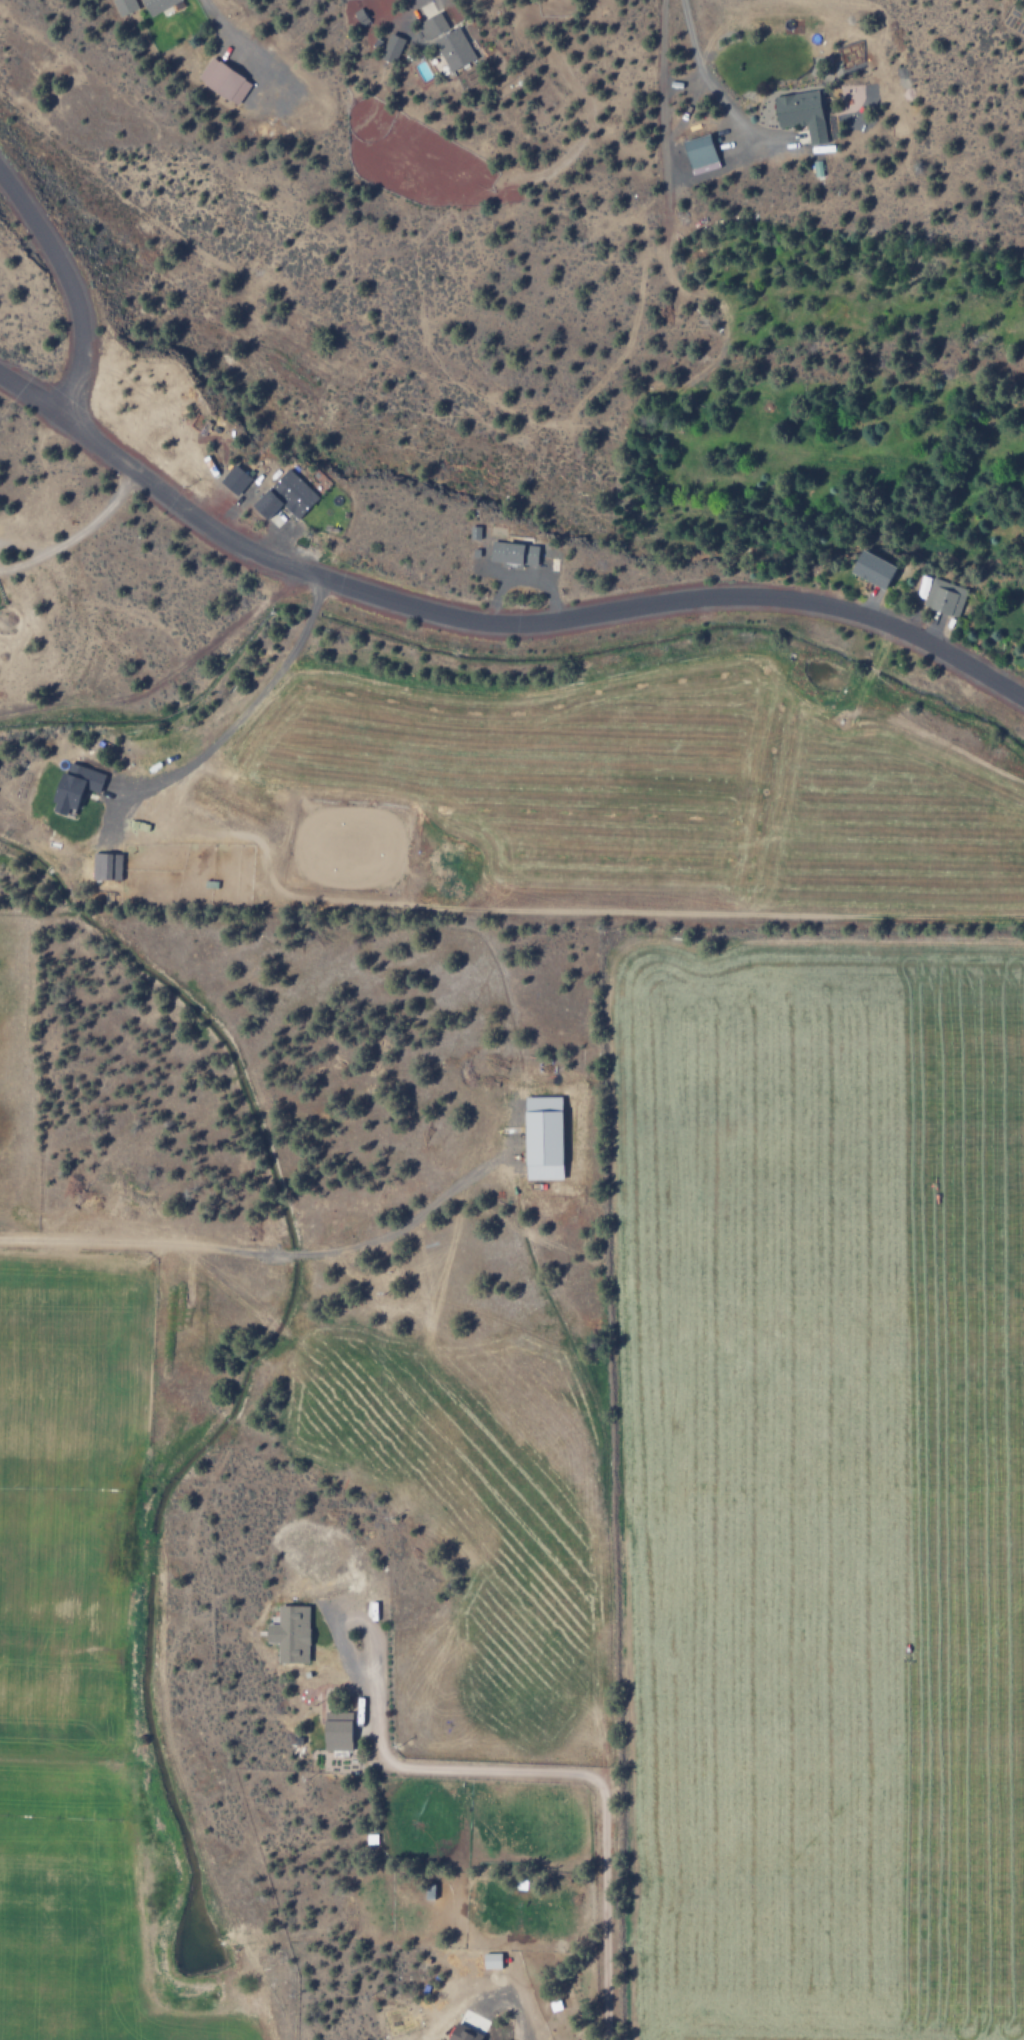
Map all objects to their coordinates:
building: (155, 5)
building: (122, 6)
building: (445, 41)
building: (390, 48)
building: (222, 81)
building: (799, 113)
building: (697, 153)
road: (68, 287)
building: (233, 480)
building: (283, 496)
building: (512, 553)
building: (870, 569)
building: (940, 596)
road: (490, 623)
road: (247, 712)
building: (72, 786)
building: (104, 866)
building: (540, 1138)
crop: (760, 1298)
crop: (83, 1609)
building: (287, 1633)
building: (334, 1731)
building: (489, 1961)
building: (460, 2033)

